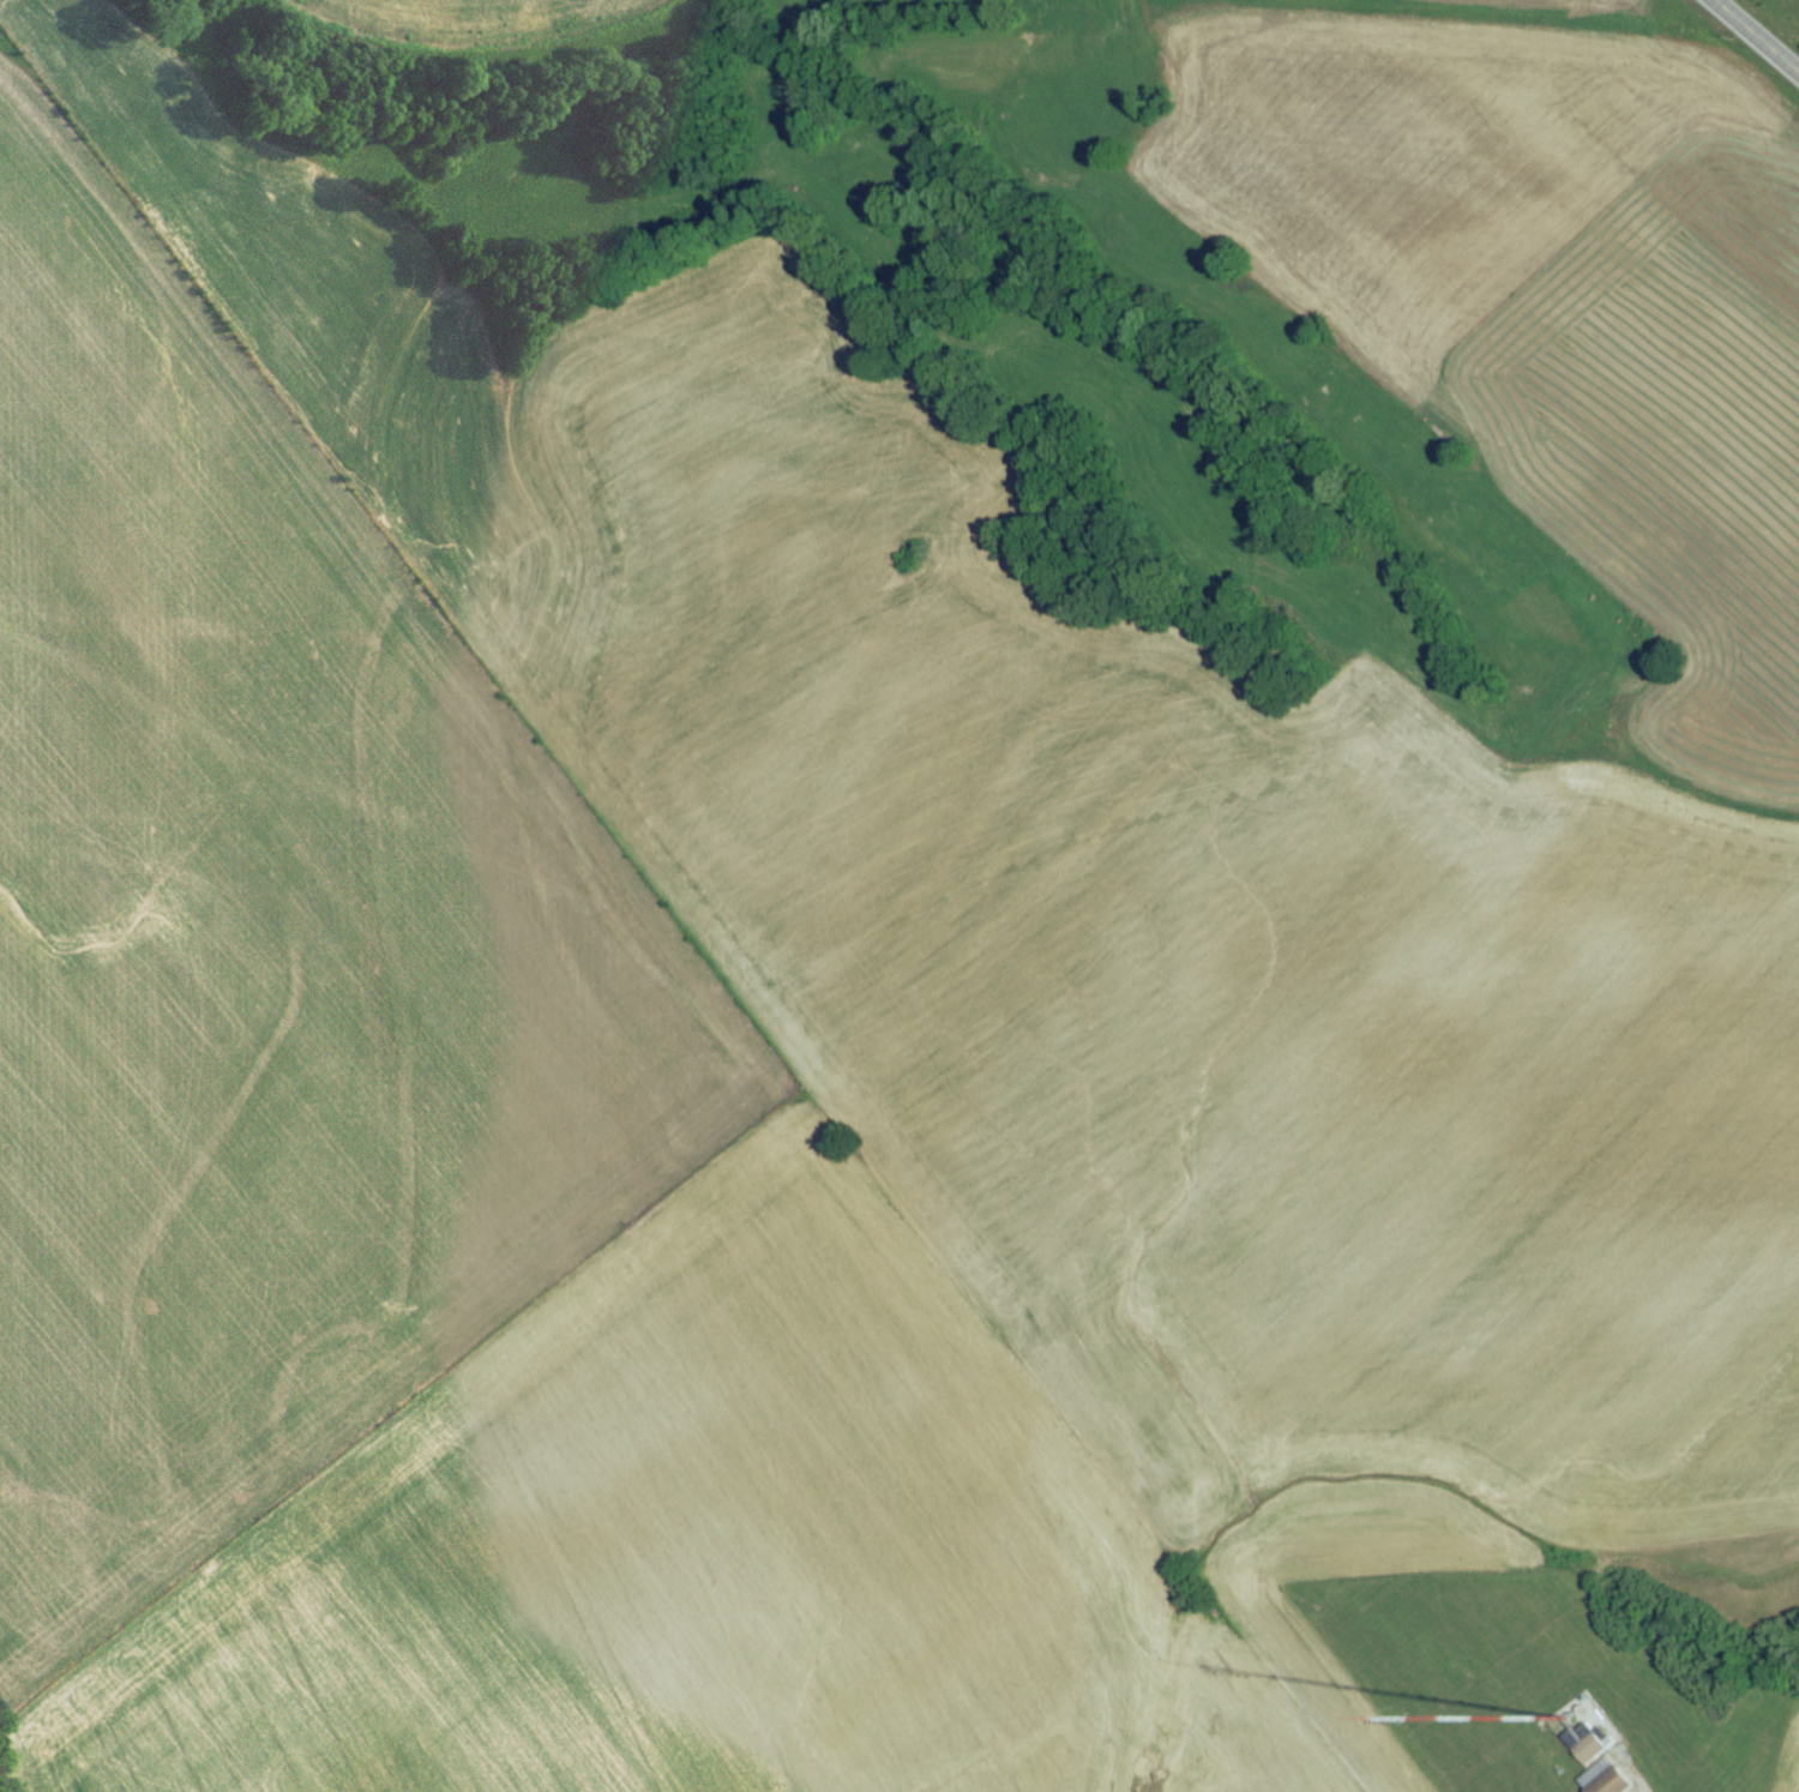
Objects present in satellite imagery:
road: (1752, 40)
building: (1588, 1756)
building: (1610, 1784)

